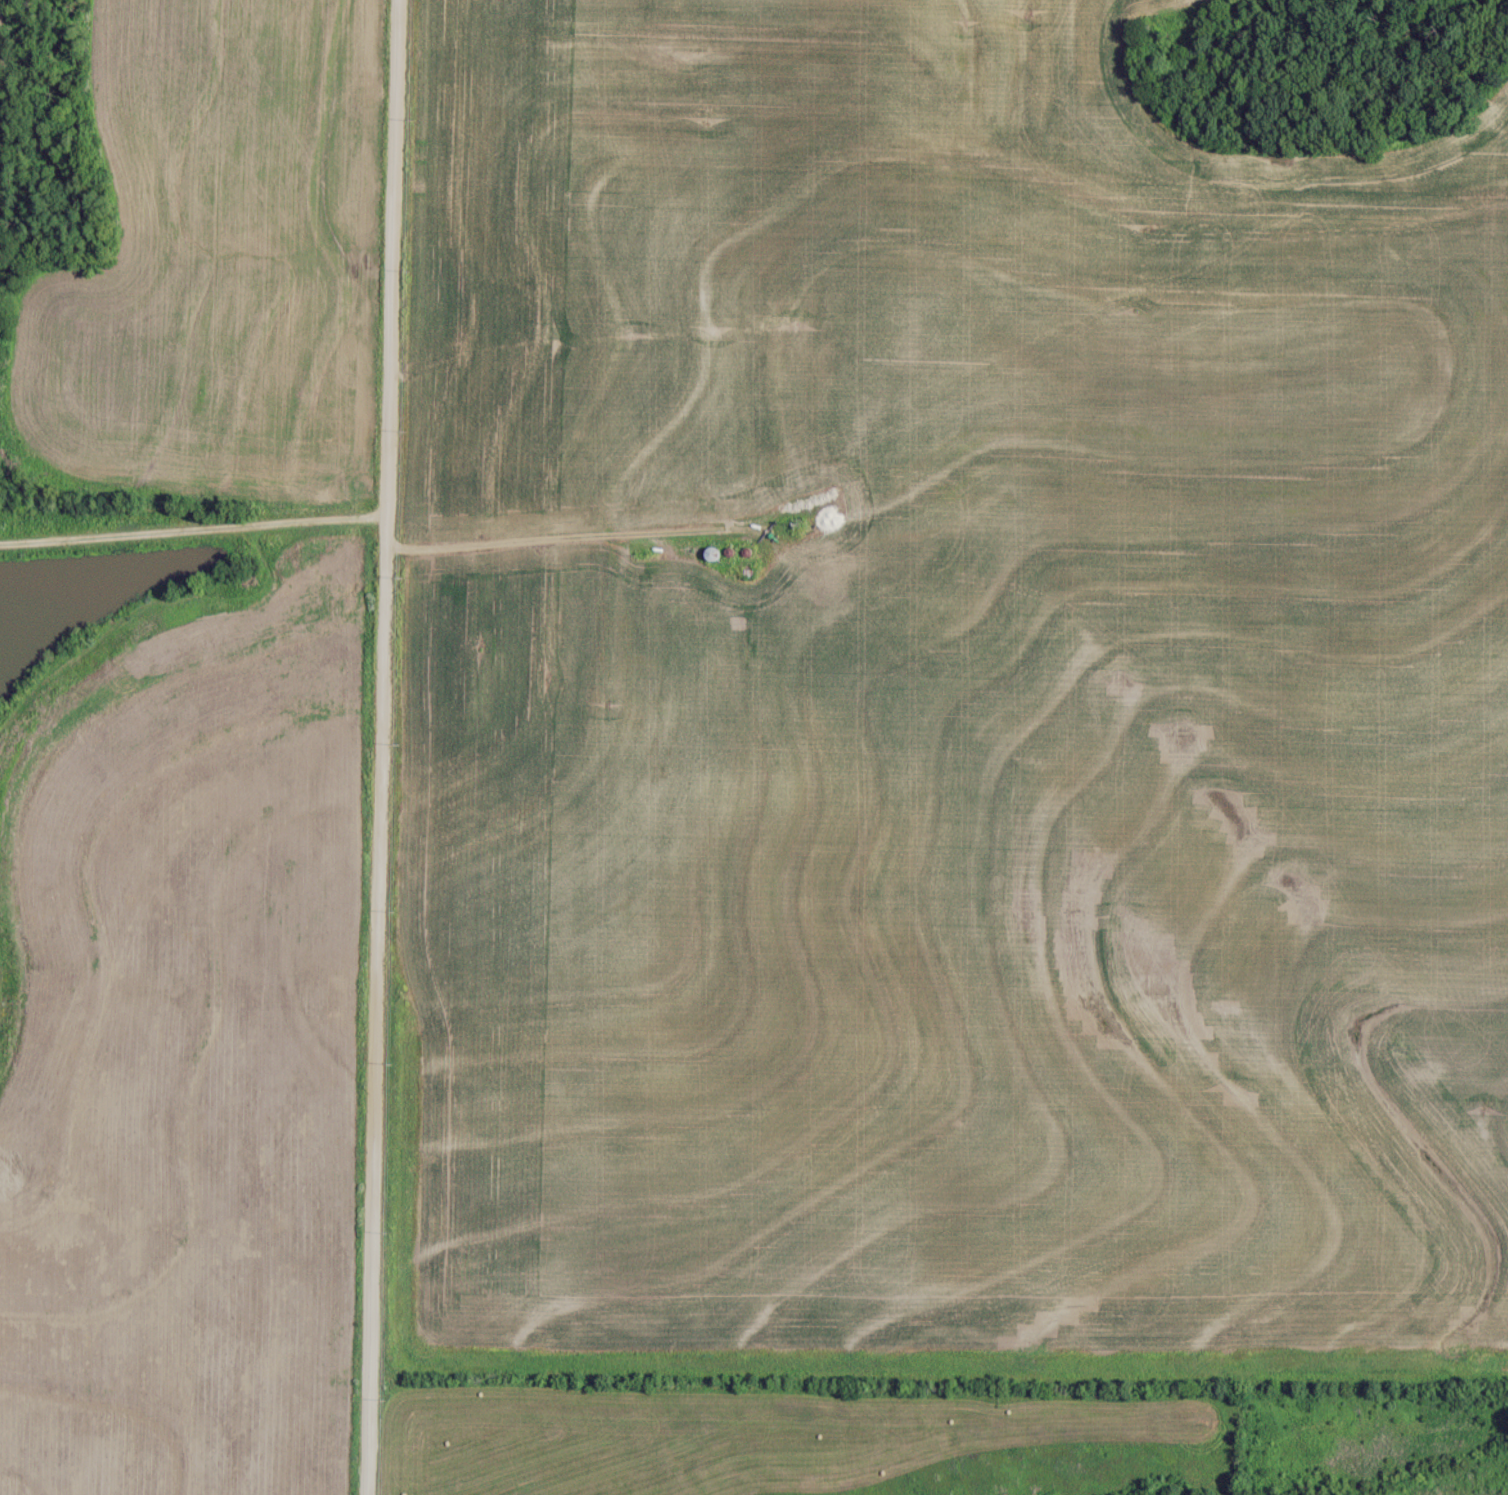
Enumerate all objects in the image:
road: (566, 547)
road: (380, 747)

